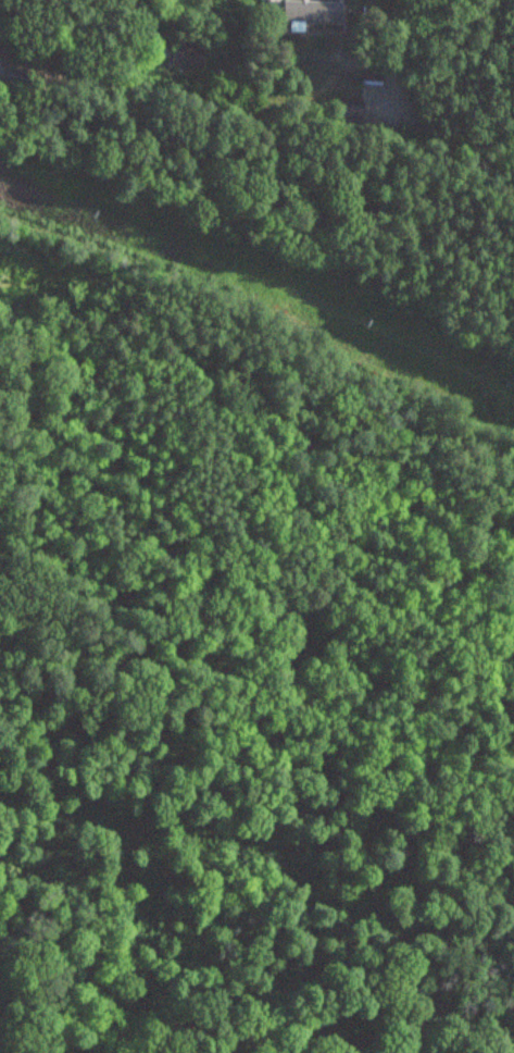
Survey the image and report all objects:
building: (304, 11)
building: (2, 27)
building: (187, 55)

